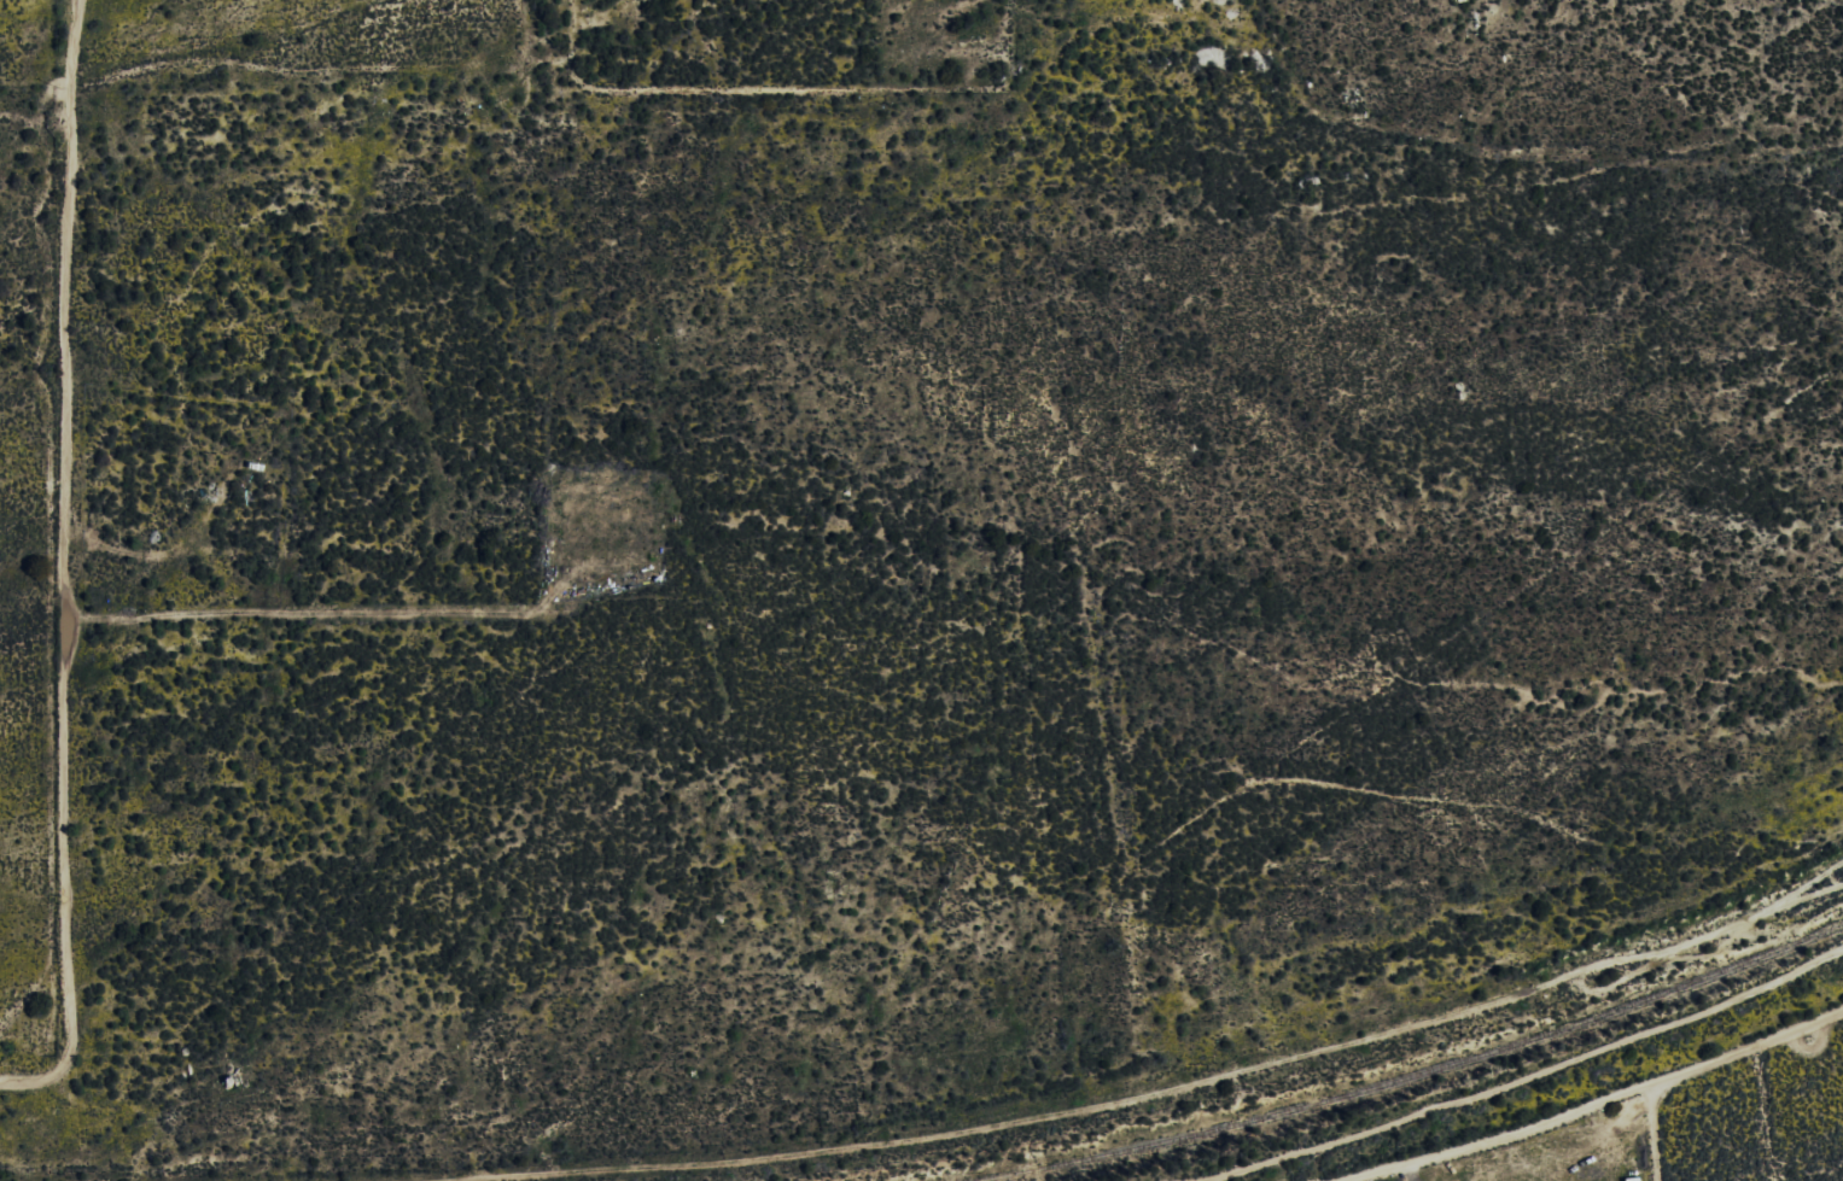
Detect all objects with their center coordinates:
road: (63, 549)
railway: (1418, 1070)
road: (1596, 1104)

